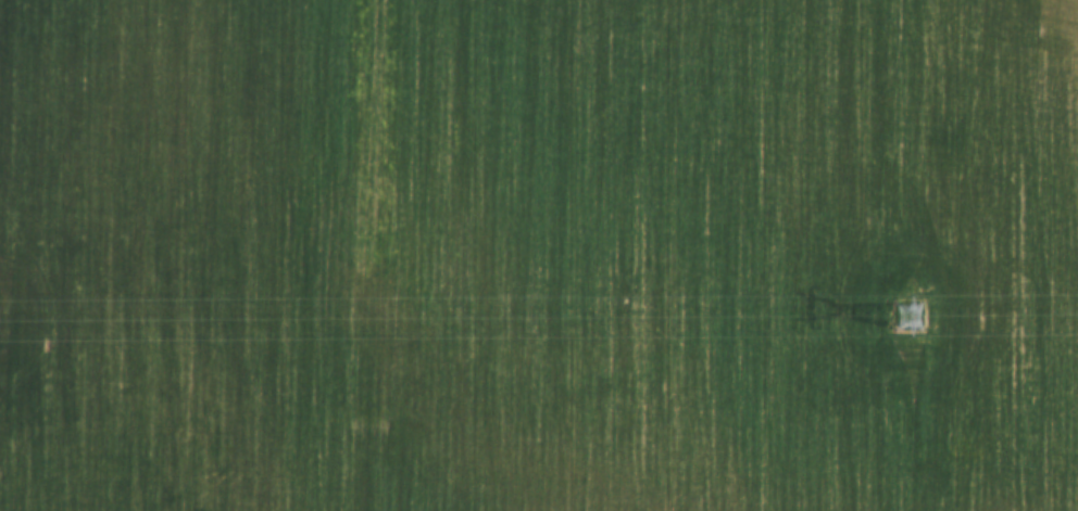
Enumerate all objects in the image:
power tower: (911, 327)

